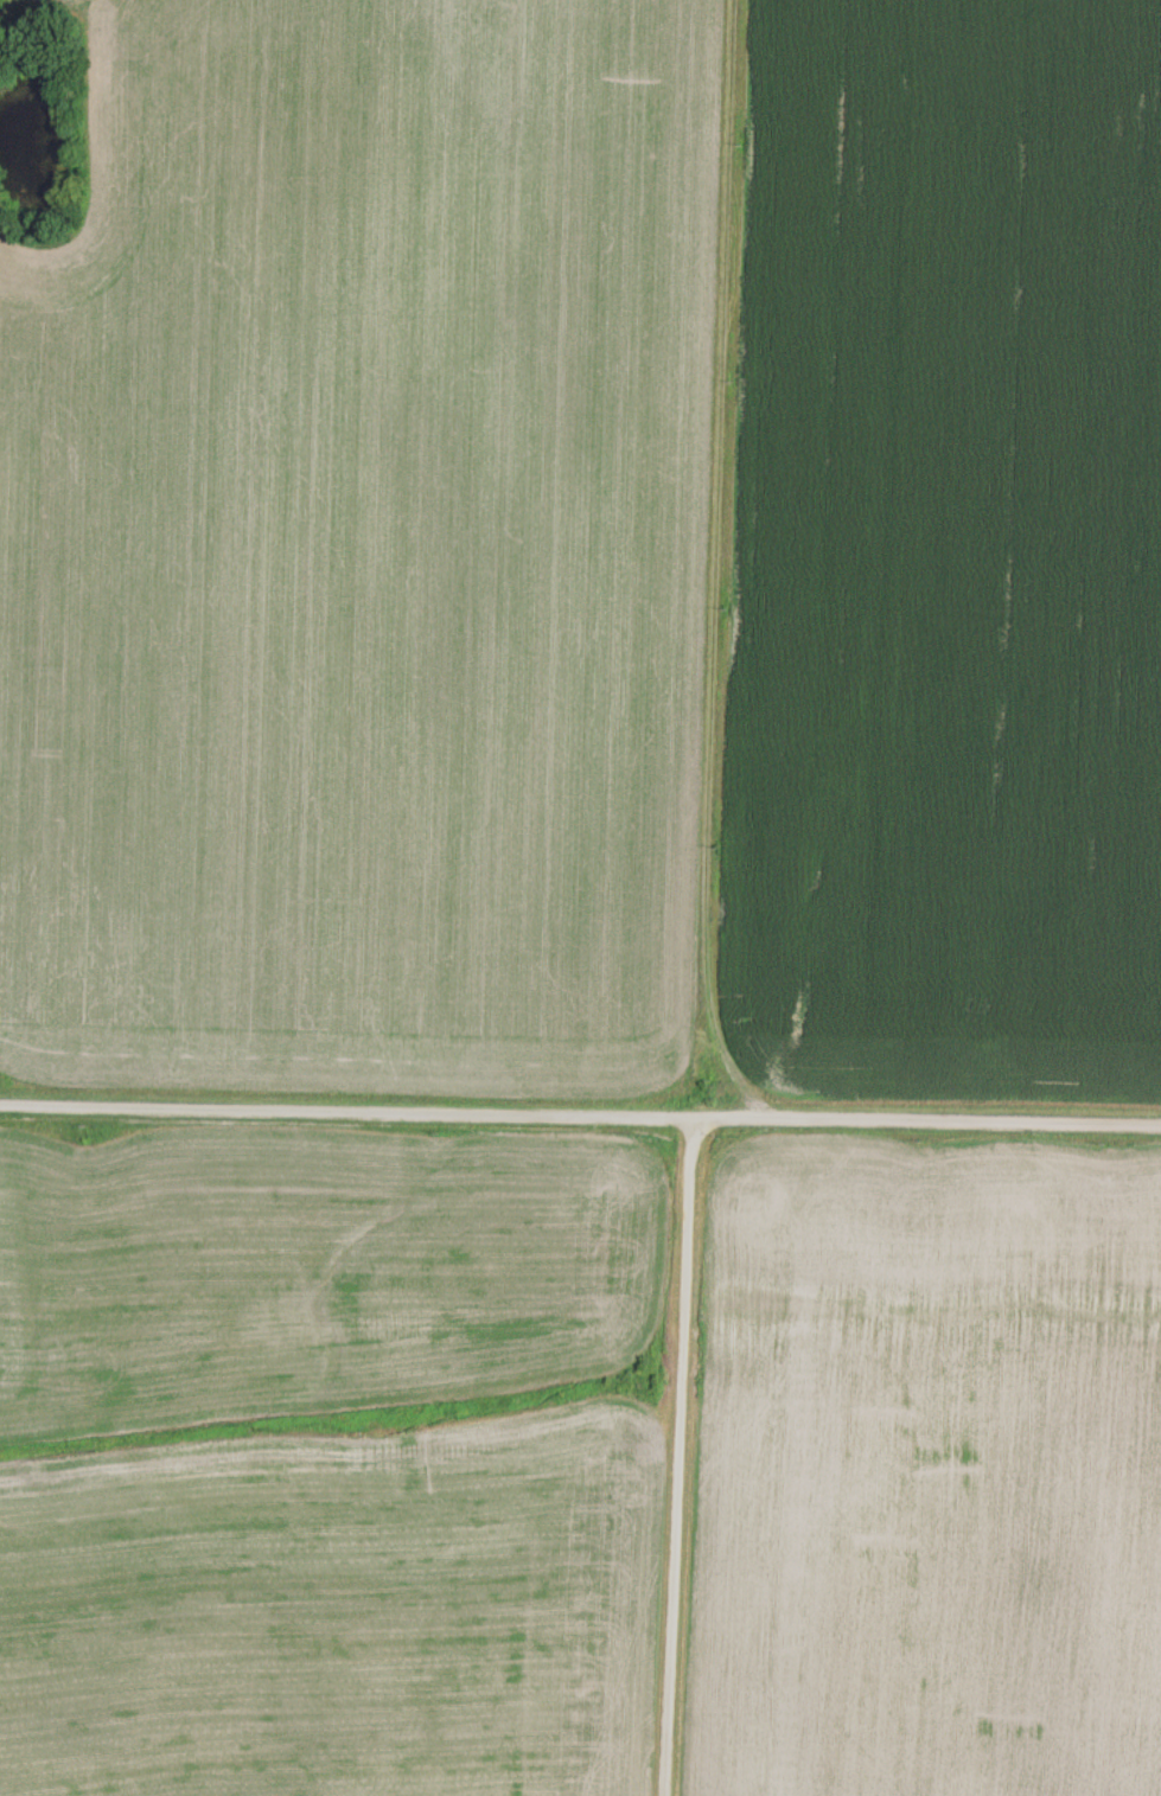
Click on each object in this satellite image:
road: (714, 557)
road: (580, 1113)
road: (678, 1455)

